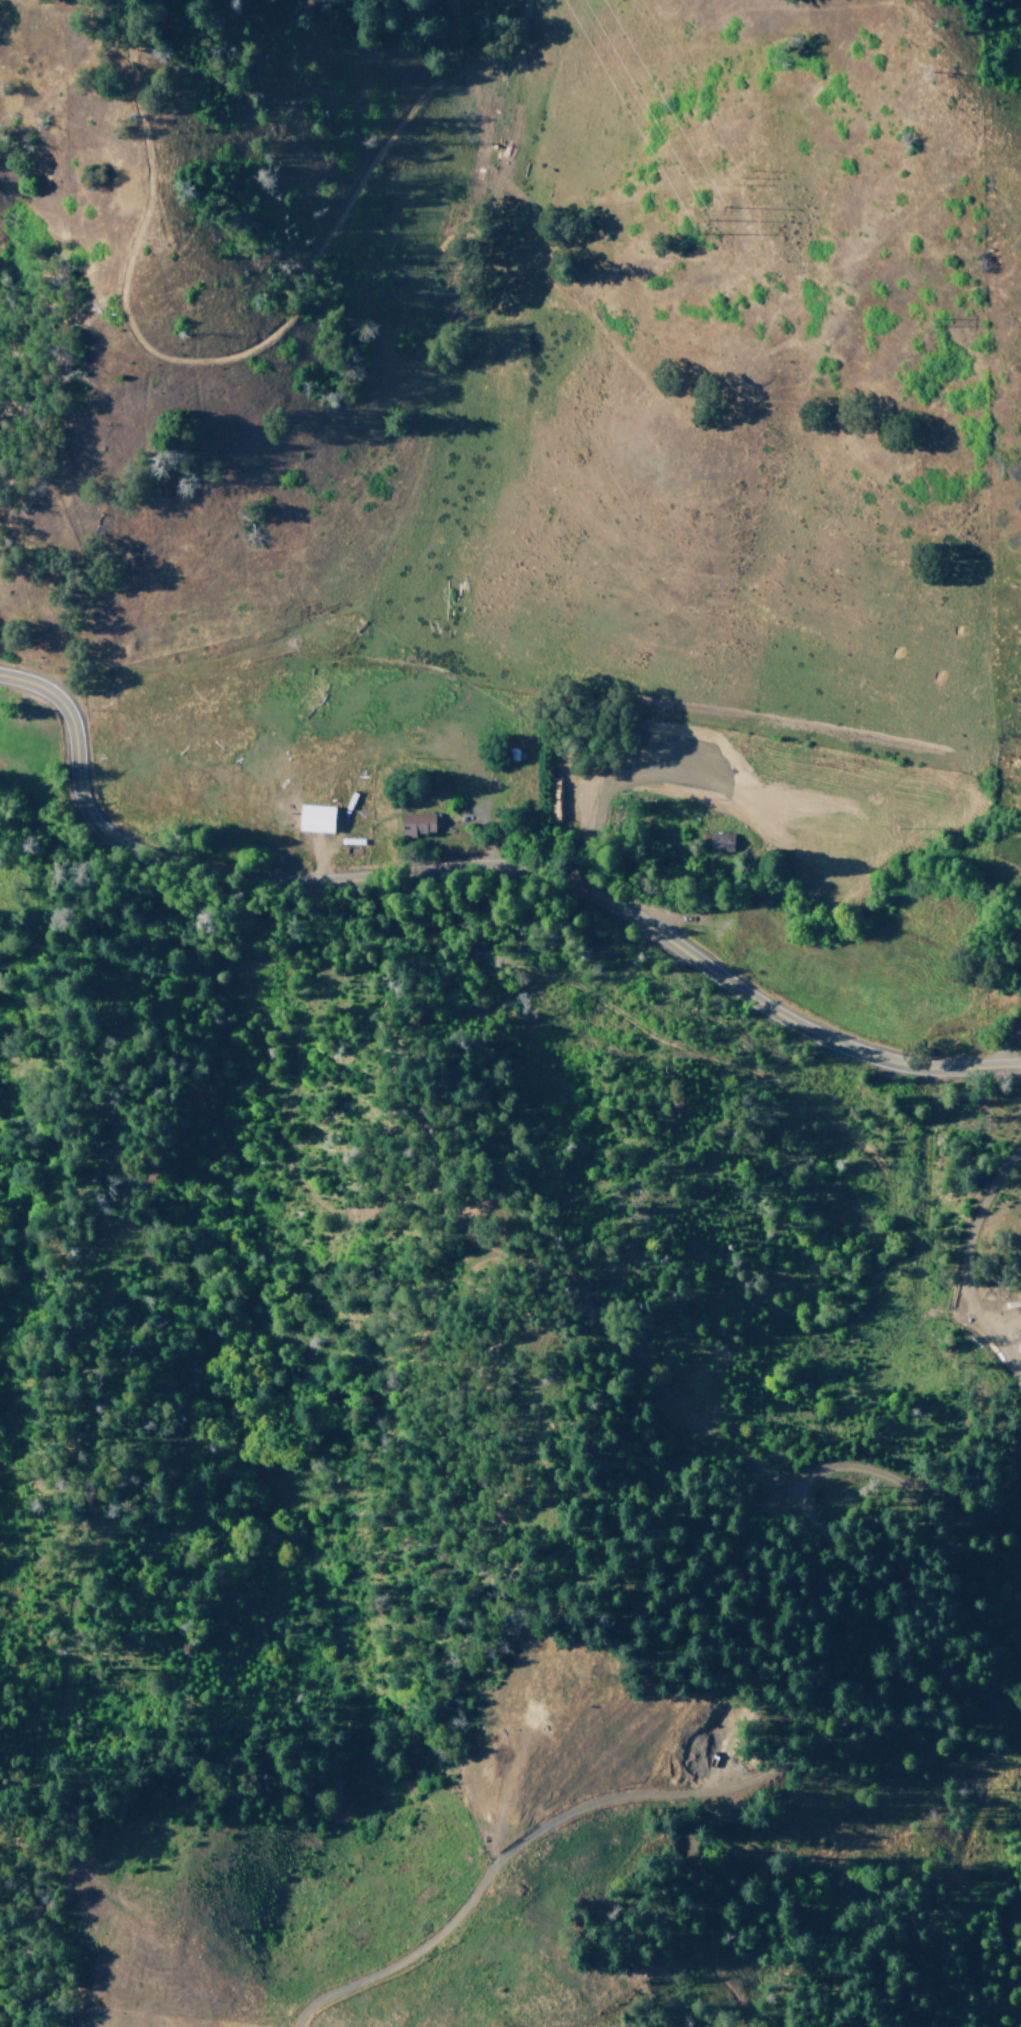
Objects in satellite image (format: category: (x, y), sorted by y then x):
power tower: (703, 221)
building: (317, 818)
building: (417, 823)
road: (476, 861)
road: (872, 1611)

